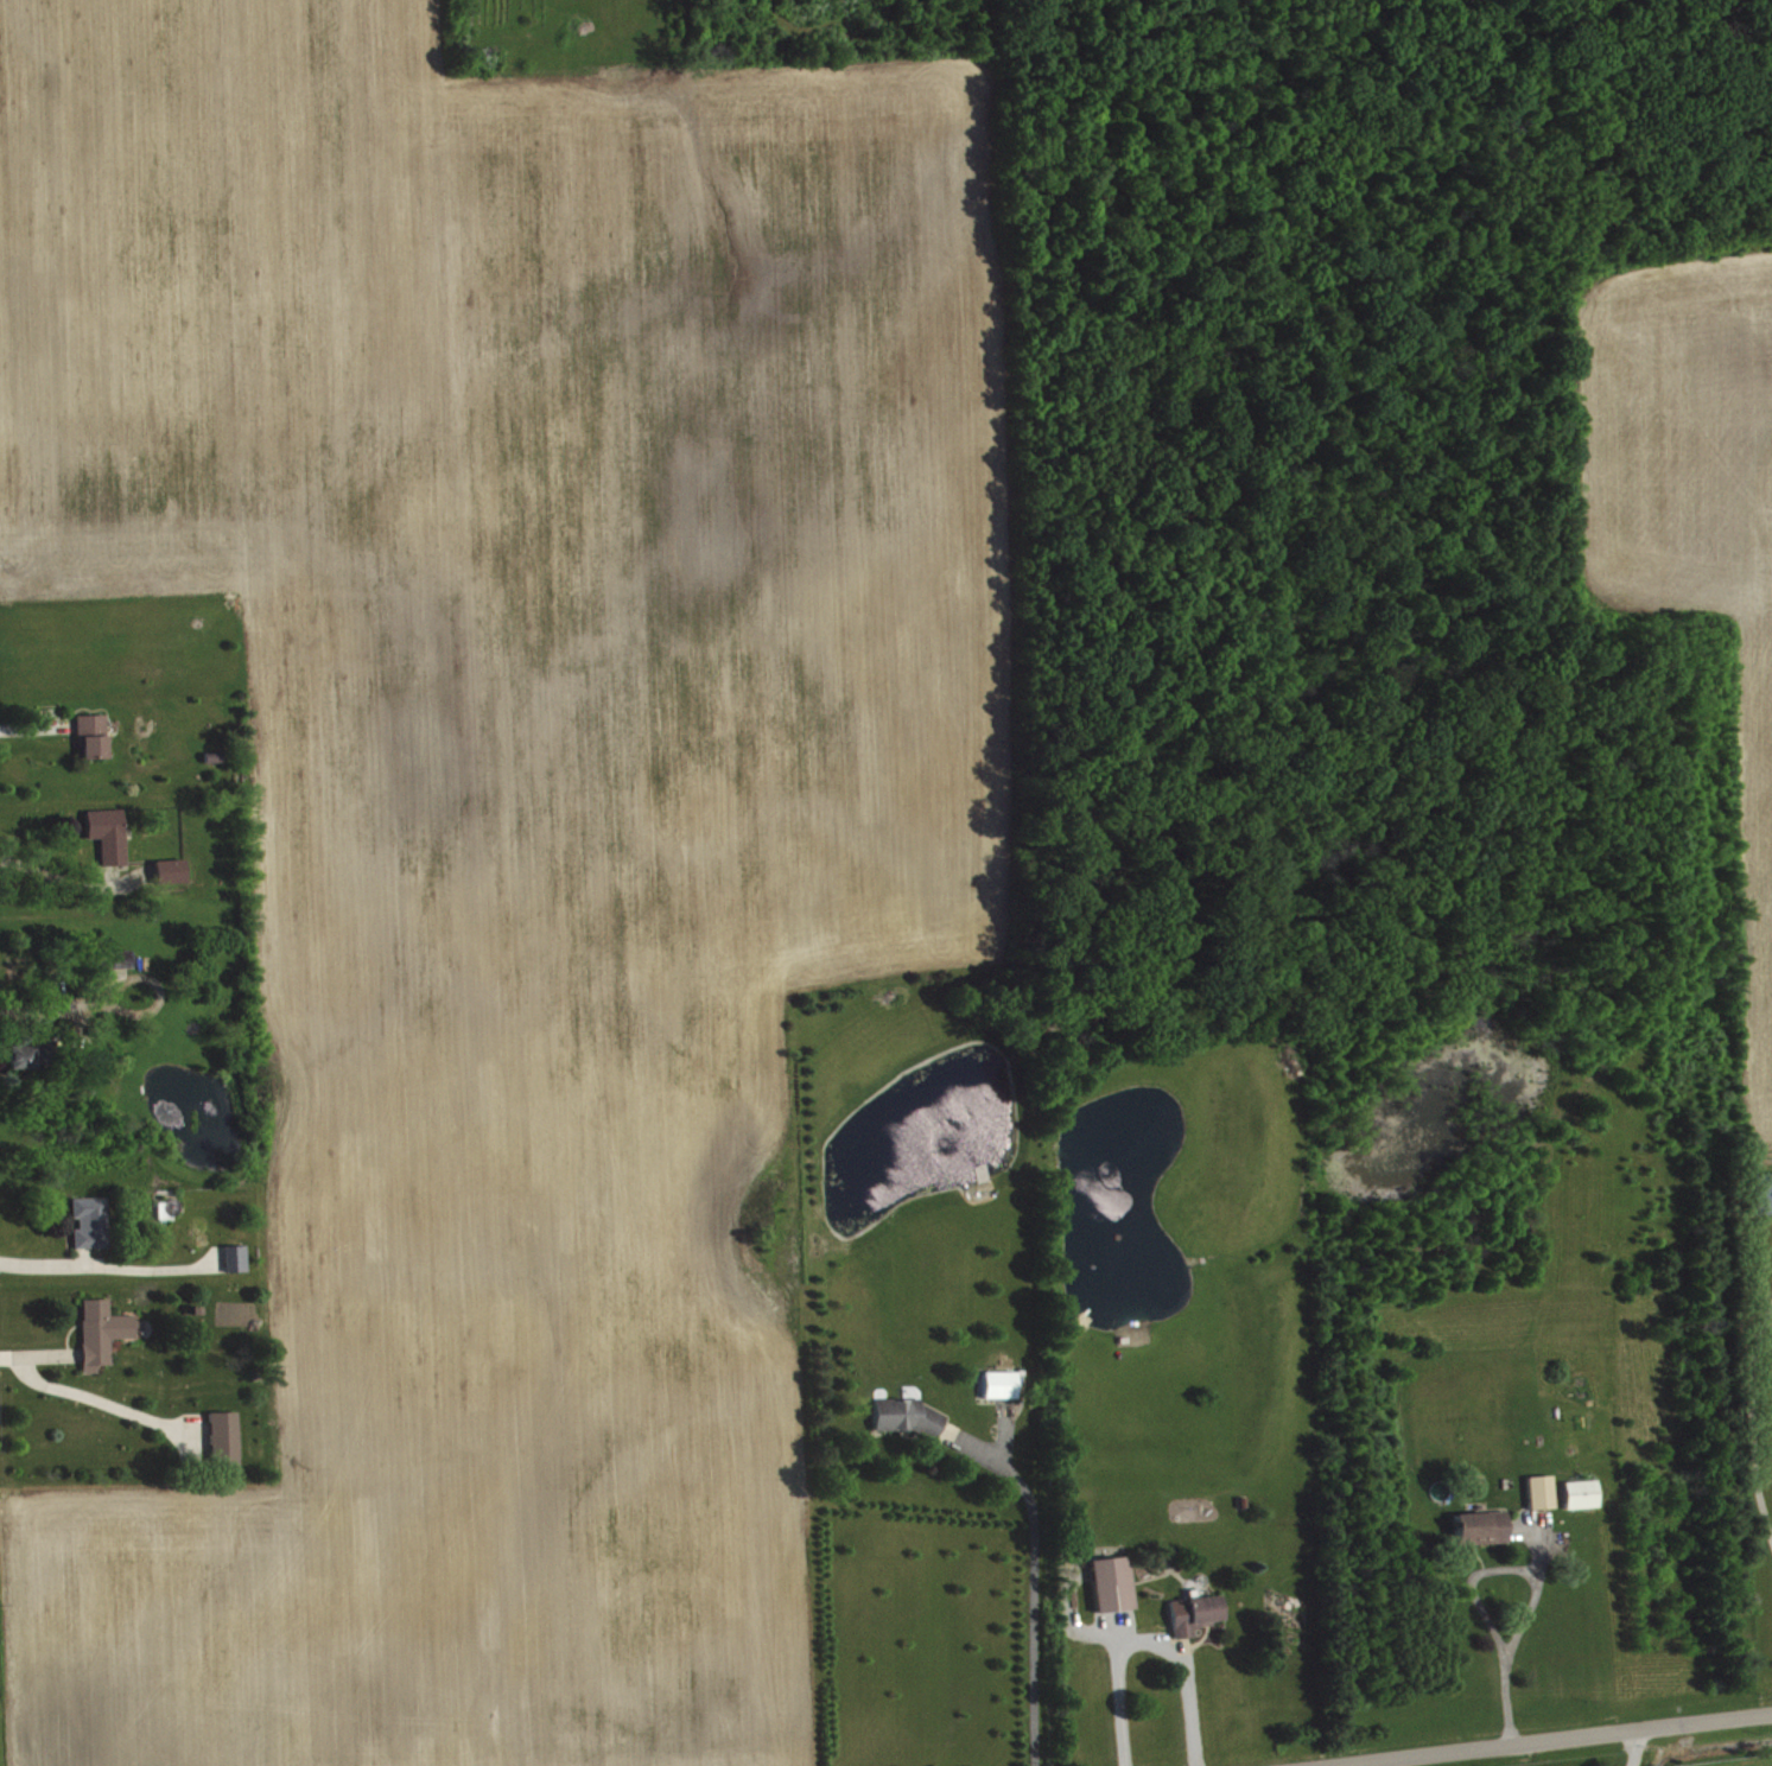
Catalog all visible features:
building: (89, 733)
crop: (514, 819)
building: (106, 832)
building: (166, 869)
road: (56, 877)
building: (122, 959)
building: (33, 1054)
building: (1765, 1193)
building: (87, 1220)
road: (80, 1254)
building: (234, 1256)
road: (110, 1266)
building: (97, 1330)
road: (39, 1354)
building: (1003, 1384)
road: (107, 1402)
building: (908, 1416)
road: (1749, 1422)
building: (222, 1436)
building: (1544, 1492)
building: (1584, 1494)
building: (1485, 1527)
building: (1116, 1583)
road: (1031, 1592)
building: (1198, 1614)
road: (1149, 1645)
road: (1505, 1670)
road: (1533, 1738)
road: (1636, 1746)

